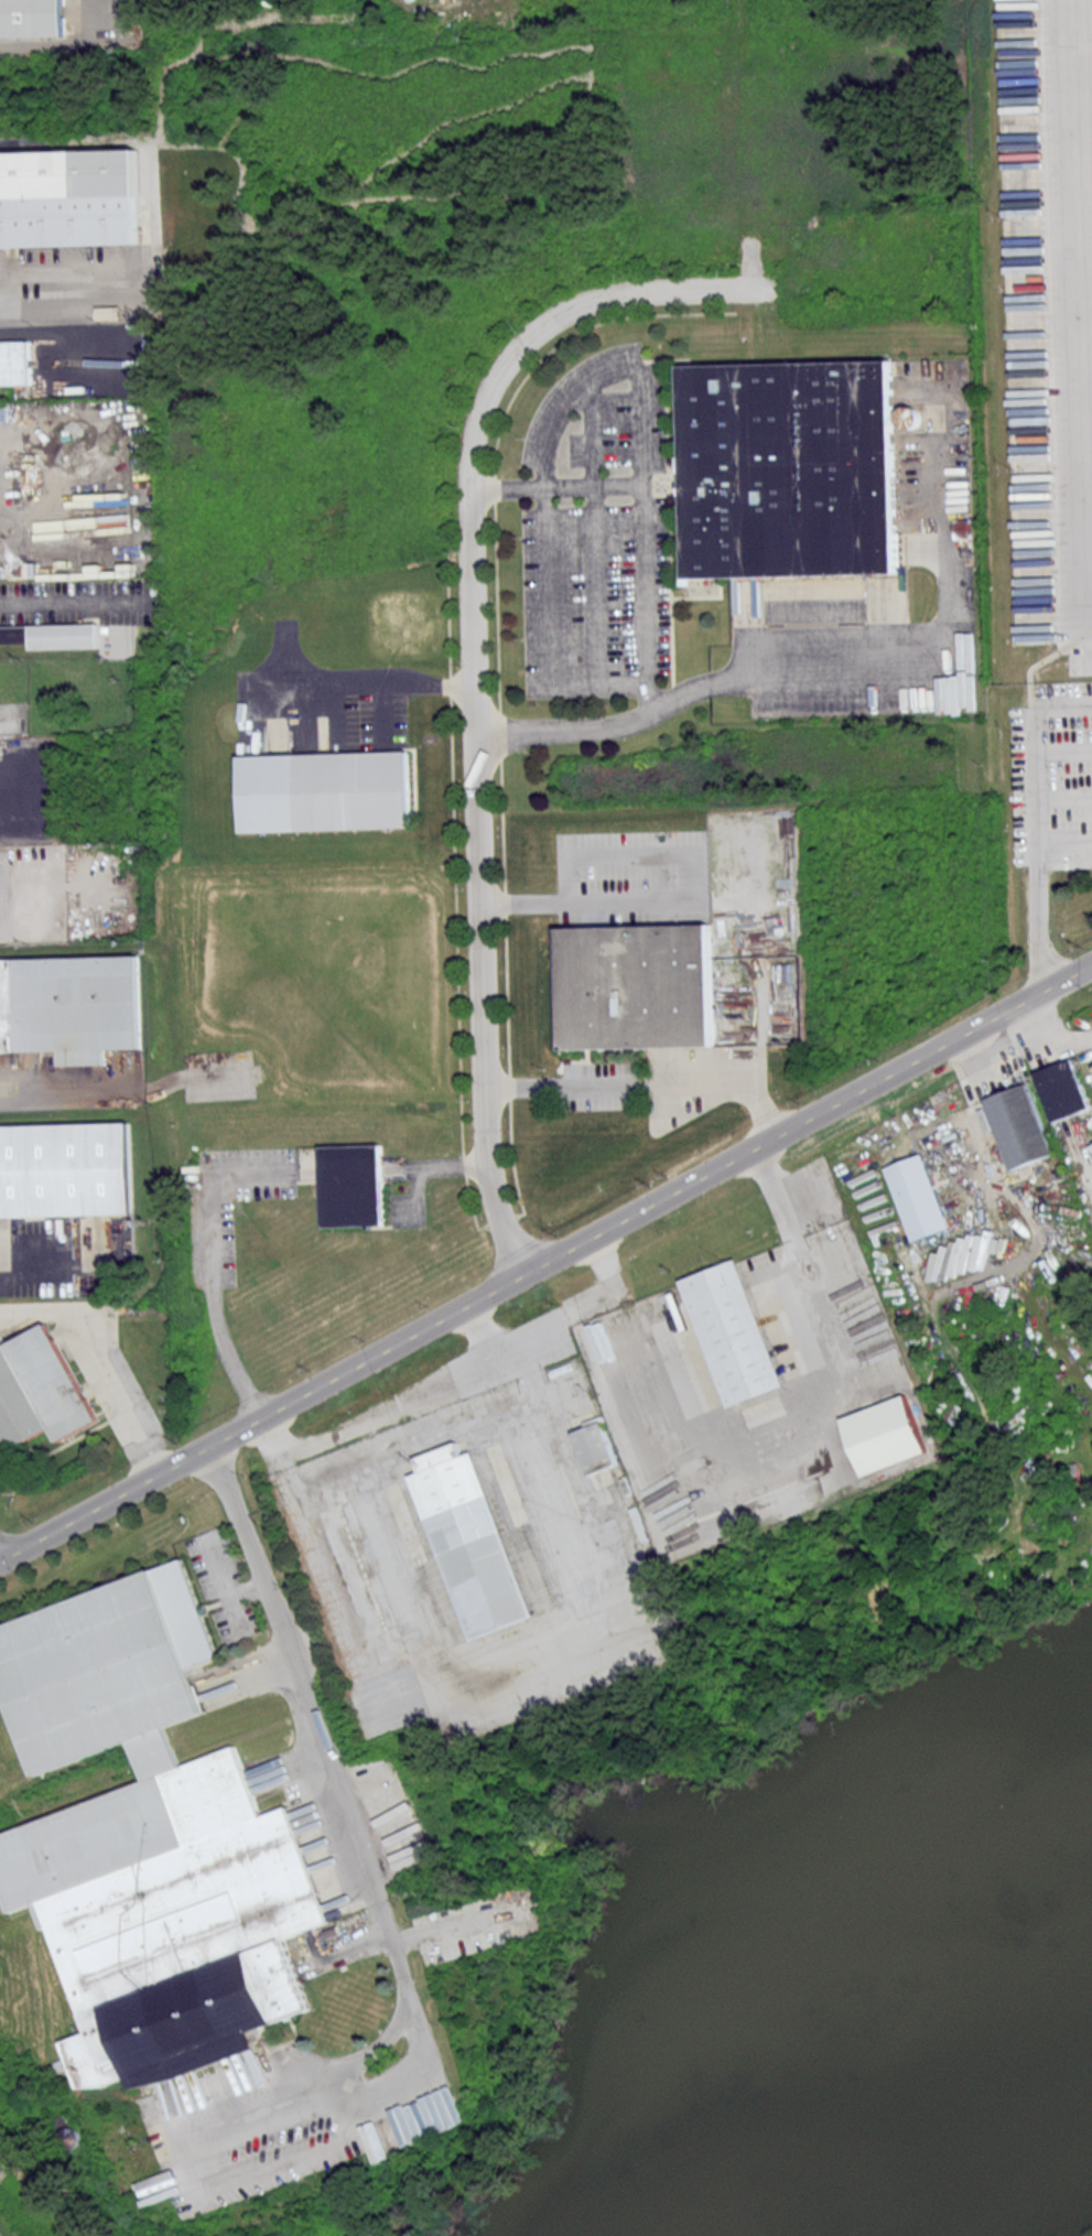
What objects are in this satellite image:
building: (33, 18)
road: (1084, 173)
building: (71, 198)
road: (7, 291)
building: (15, 361)
building: (792, 468)
road: (540, 501)
parking lot: (596, 532)
parking lot: (884, 584)
road: (66, 602)
building: (53, 635)
road: (1045, 660)
road: (473, 668)
road: (904, 669)
road: (367, 688)
road: (650, 694)
road: (567, 730)
road: (1064, 745)
road: (1037, 752)
building: (325, 792)
road: (1064, 796)
road: (1064, 851)
parking lot: (633, 877)
road: (586, 904)
road: (1038, 920)
building: (635, 985)
building: (72, 1006)
road: (1, 1077)
road: (642, 1084)
road: (127, 1094)
road: (37, 1103)
road: (452, 1167)
building: (66, 1169)
building: (353, 1185)
road: (547, 1261)
road: (210, 1263)
road: (606, 1263)
road: (36, 1264)
road: (479, 1328)
road: (429, 1382)
building: (39, 1389)
road: (803, 1425)
road: (513, 1660)
road: (337, 1786)
building: (145, 1837)
road: (312, 2076)
road: (219, 2160)

